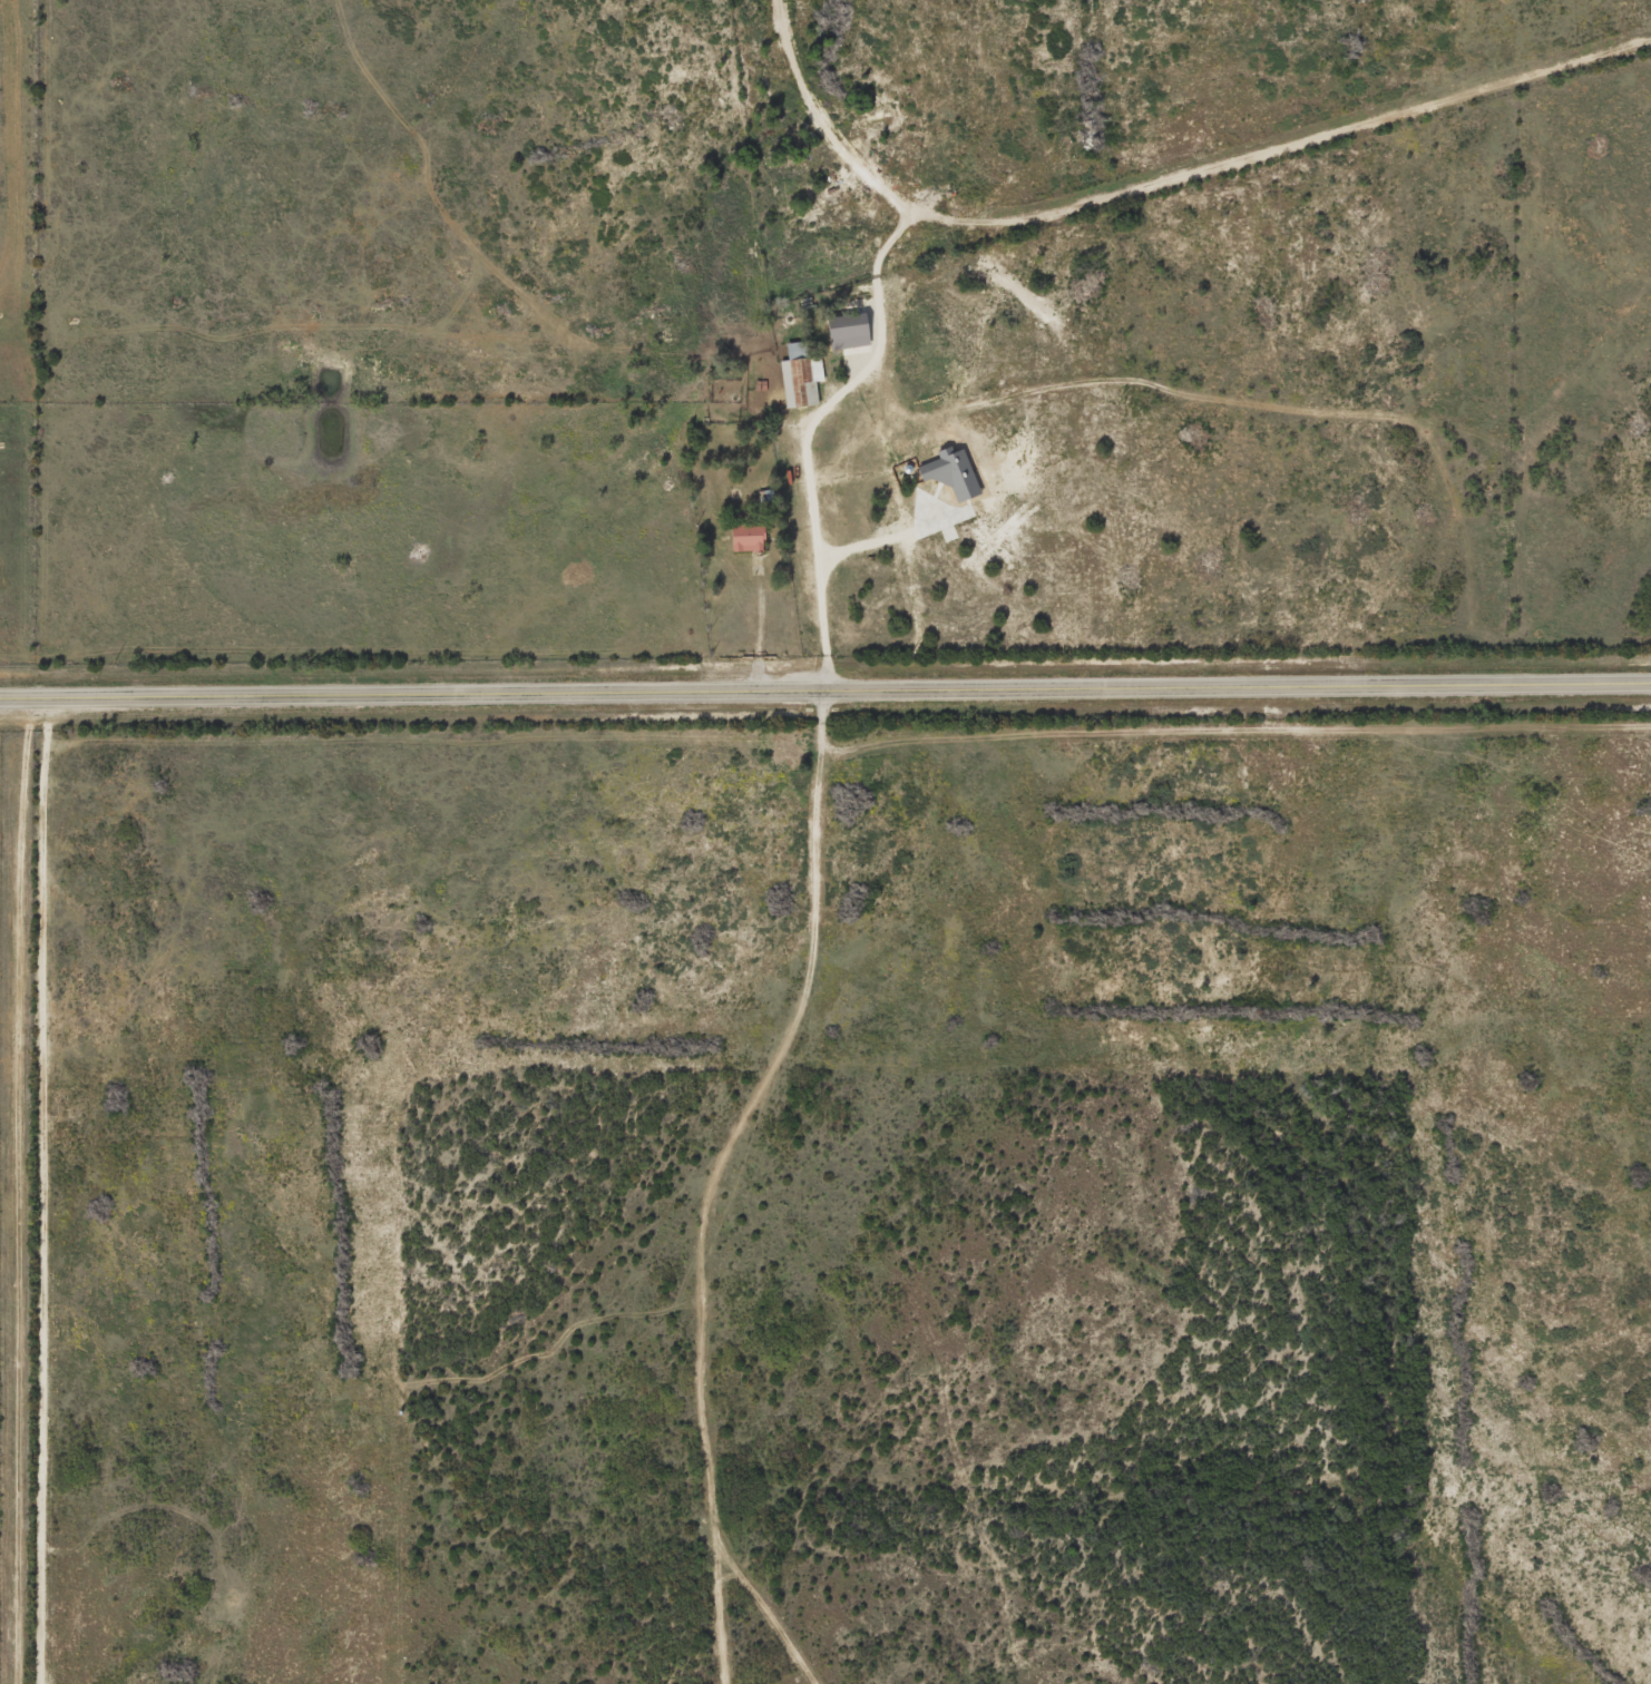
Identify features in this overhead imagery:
building: (851, 331)
building: (803, 375)
building: (955, 472)
road: (813, 482)
building: (751, 538)
road: (824, 689)

